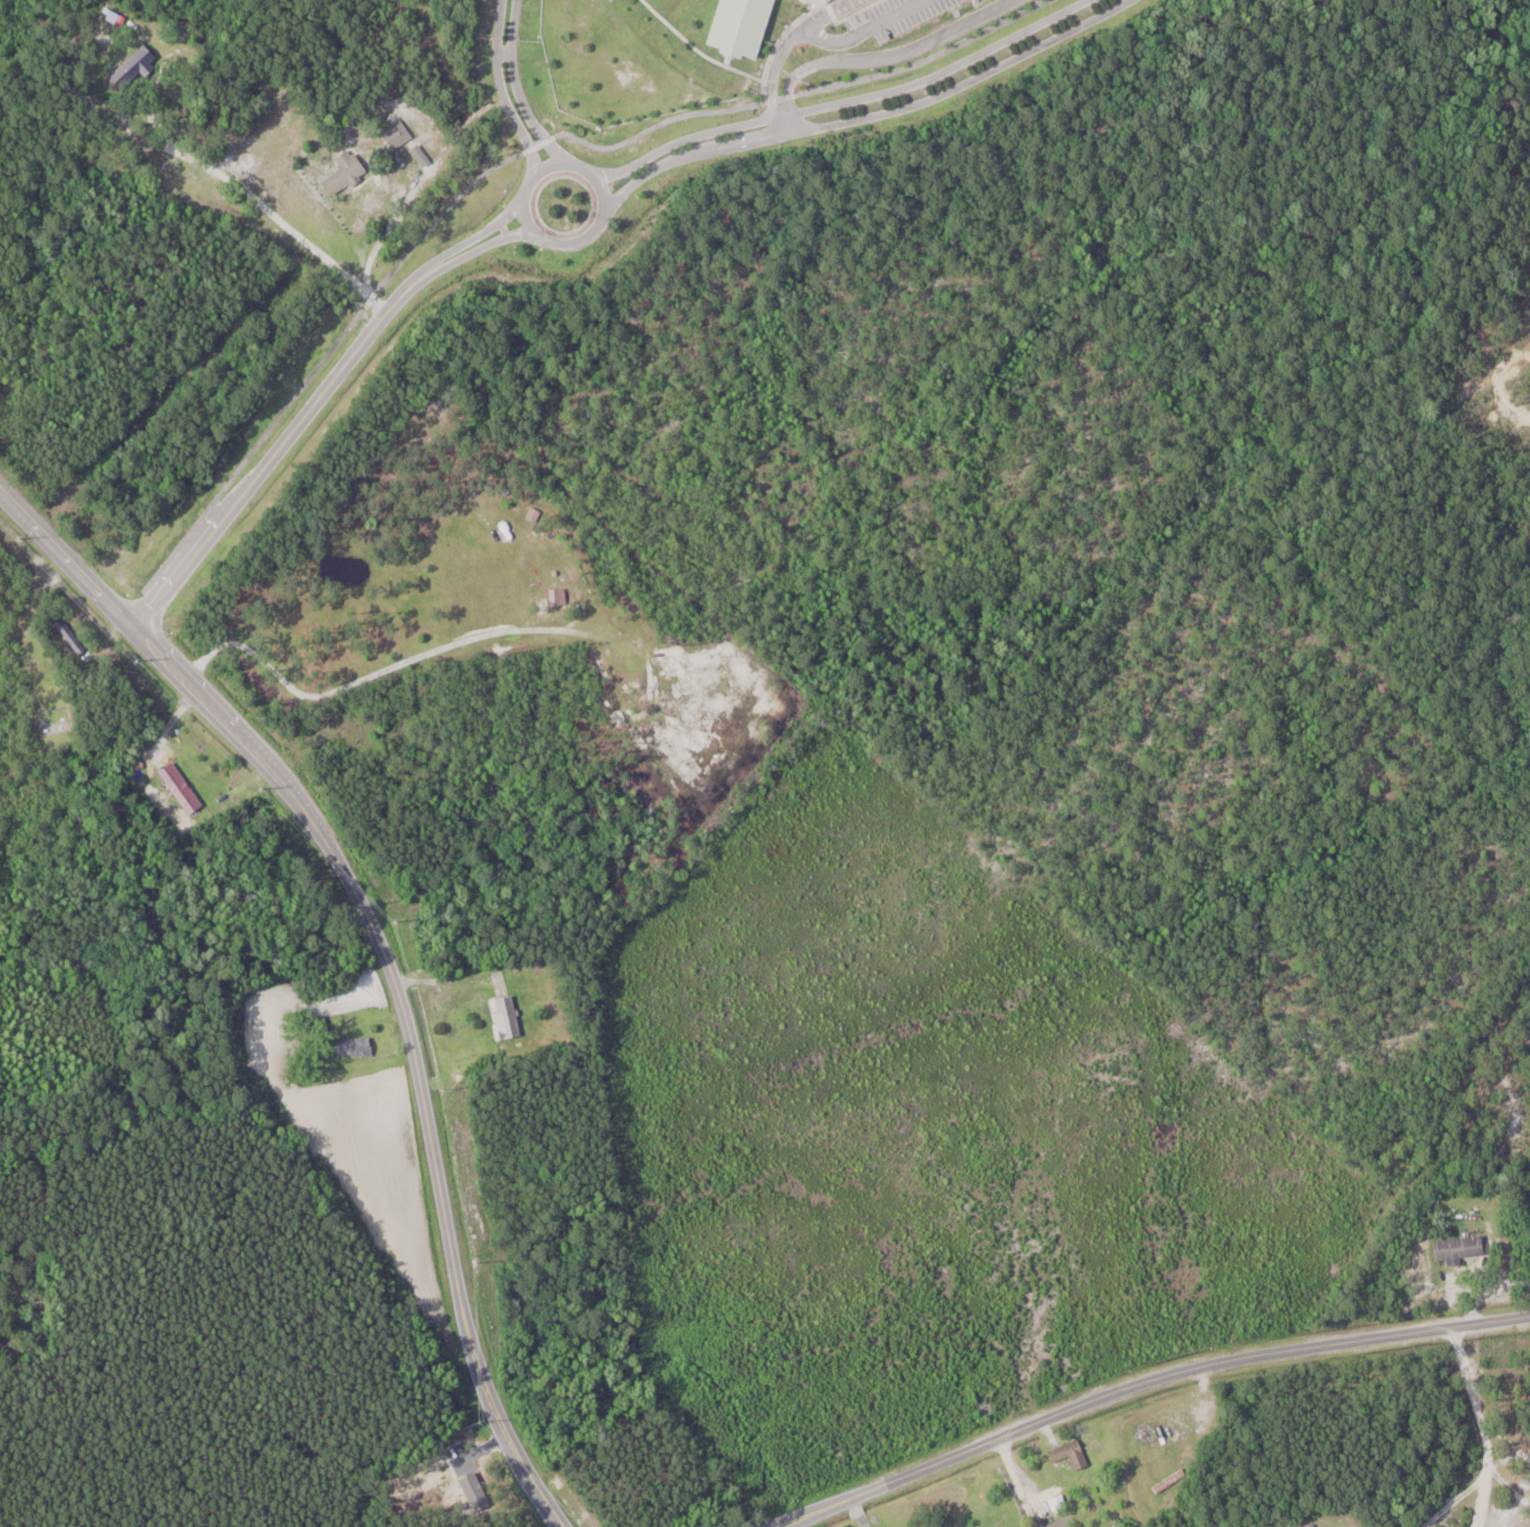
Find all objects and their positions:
building: (827, 1)
parking lot: (897, 16)
building: (742, 26)
road: (819, 37)
road: (879, 61)
building: (133, 67)
road: (498, 94)
road: (514, 96)
road: (834, 103)
road: (868, 118)
building: (397, 134)
road: (545, 138)
road: (581, 171)
building: (346, 172)
road: (269, 209)
road: (376, 233)
road: (349, 342)
road: (352, 352)
building: (534, 513)
road: (168, 575)
building: (71, 634)
building: (182, 787)
road: (382, 954)
building: (508, 1016)
building: (355, 1046)
building: (1462, 1246)
road: (1145, 1381)
road: (1470, 1426)
building: (1072, 1454)
building: (1050, 1509)

